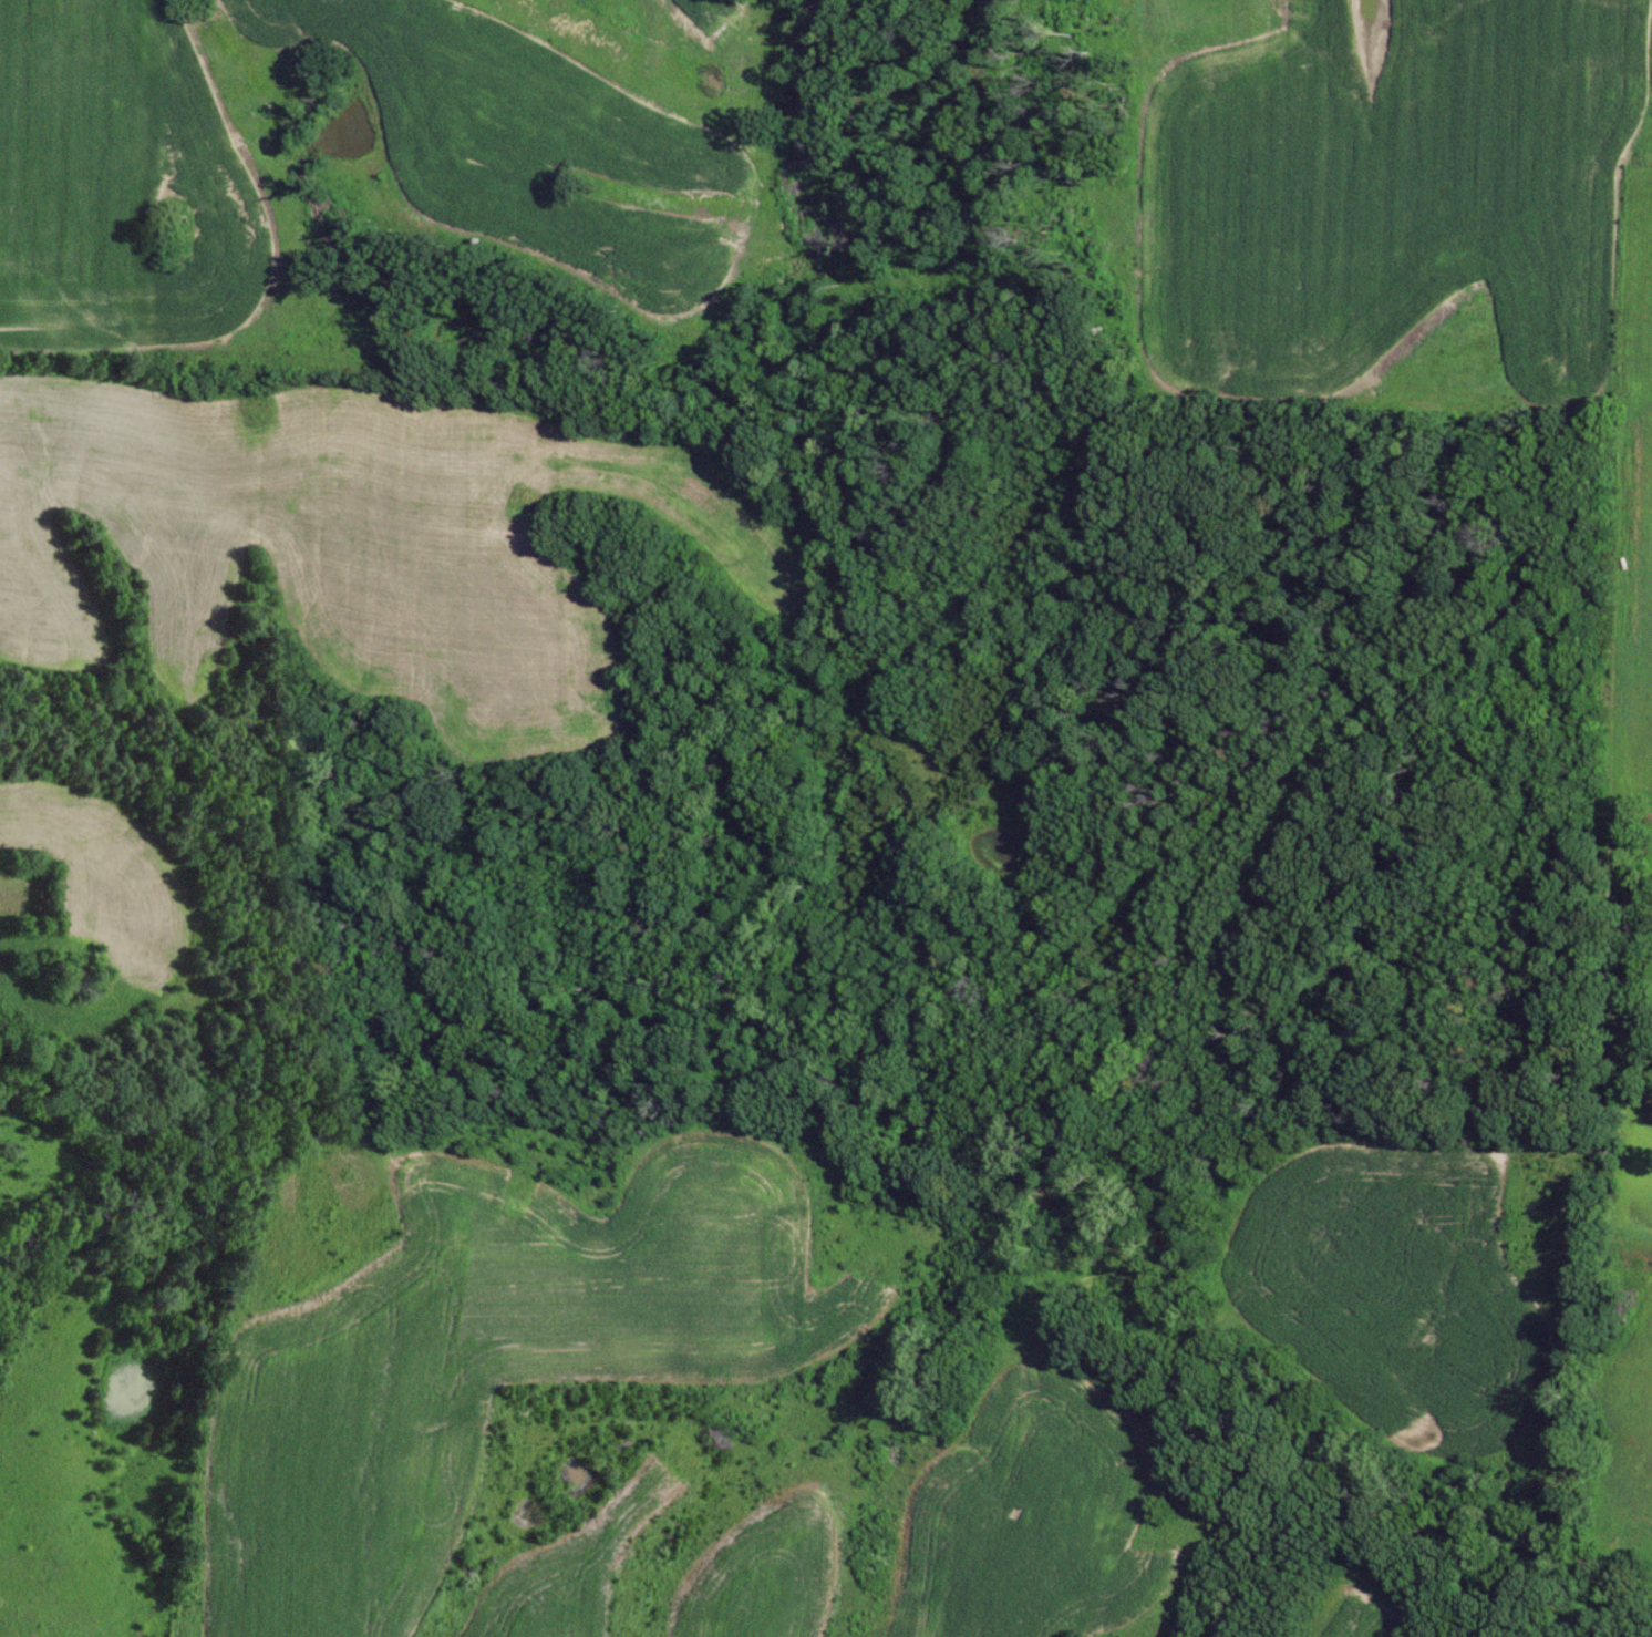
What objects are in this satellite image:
park: (179, 245)

